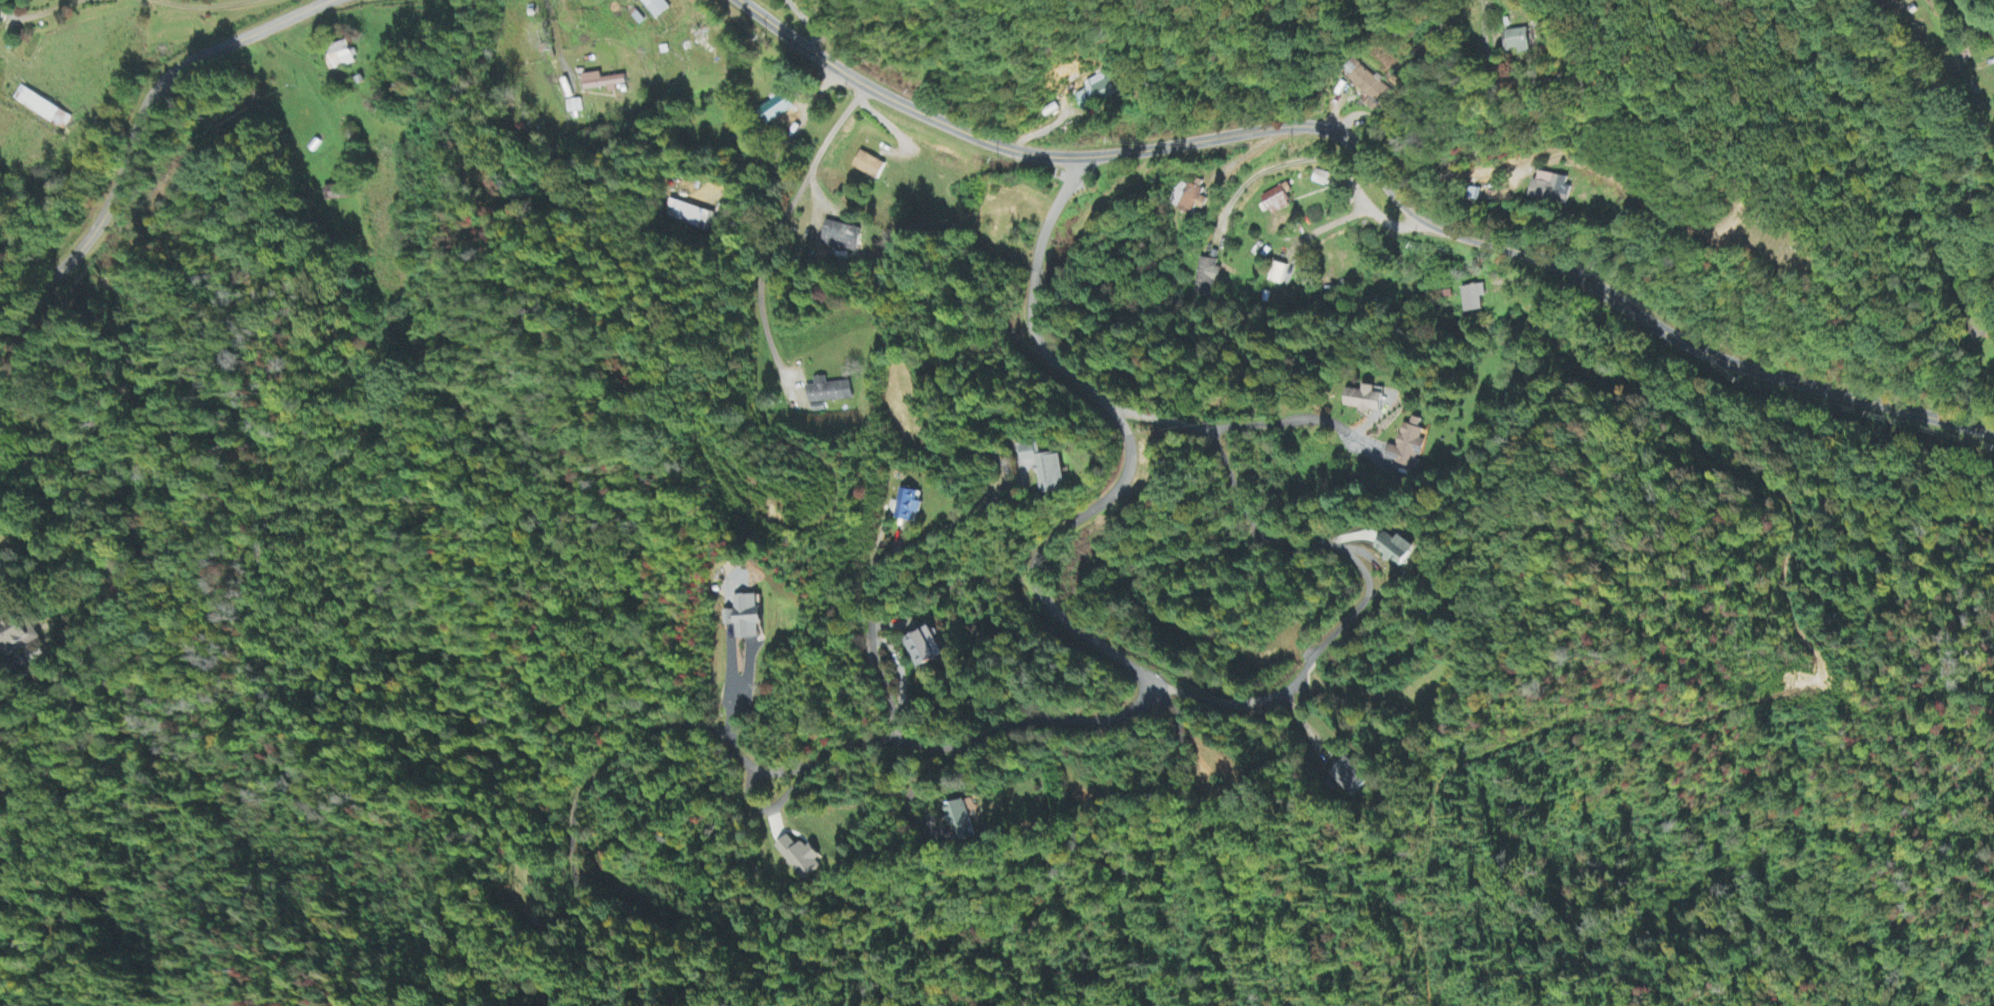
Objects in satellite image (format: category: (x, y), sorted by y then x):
building: (655, 8)
road: (1977, 17)
building: (1520, 42)
building: (341, 57)
building: (602, 83)
building: (1370, 88)
building: (1097, 92)
building: (573, 107)
building: (42, 109)
building: (776, 110)
road: (138, 128)
road: (1515, 133)
road: (1371, 161)
building: (868, 167)
building: (1320, 179)
building: (1551, 190)
road: (799, 191)
building: (332, 194)
building: (1189, 197)
building: (1277, 201)
building: (689, 217)
road: (1712, 235)
building: (841, 238)
park: (1791, 251)
building: (1278, 274)
building: (1207, 277)
building: (1472, 299)
building: (828, 393)
building: (1366, 401)
road: (1276, 424)
building: (1408, 447)
building: (1046, 470)
building: (909, 507)
road: (909, 547)
building: (1397, 551)
road: (1354, 559)
road: (1037, 586)
building: (746, 619)
building: (16, 637)
building: (926, 650)
road: (611, 762)
road: (780, 771)
building: (1350, 778)
road: (769, 808)
building: (962, 823)
building: (800, 859)

